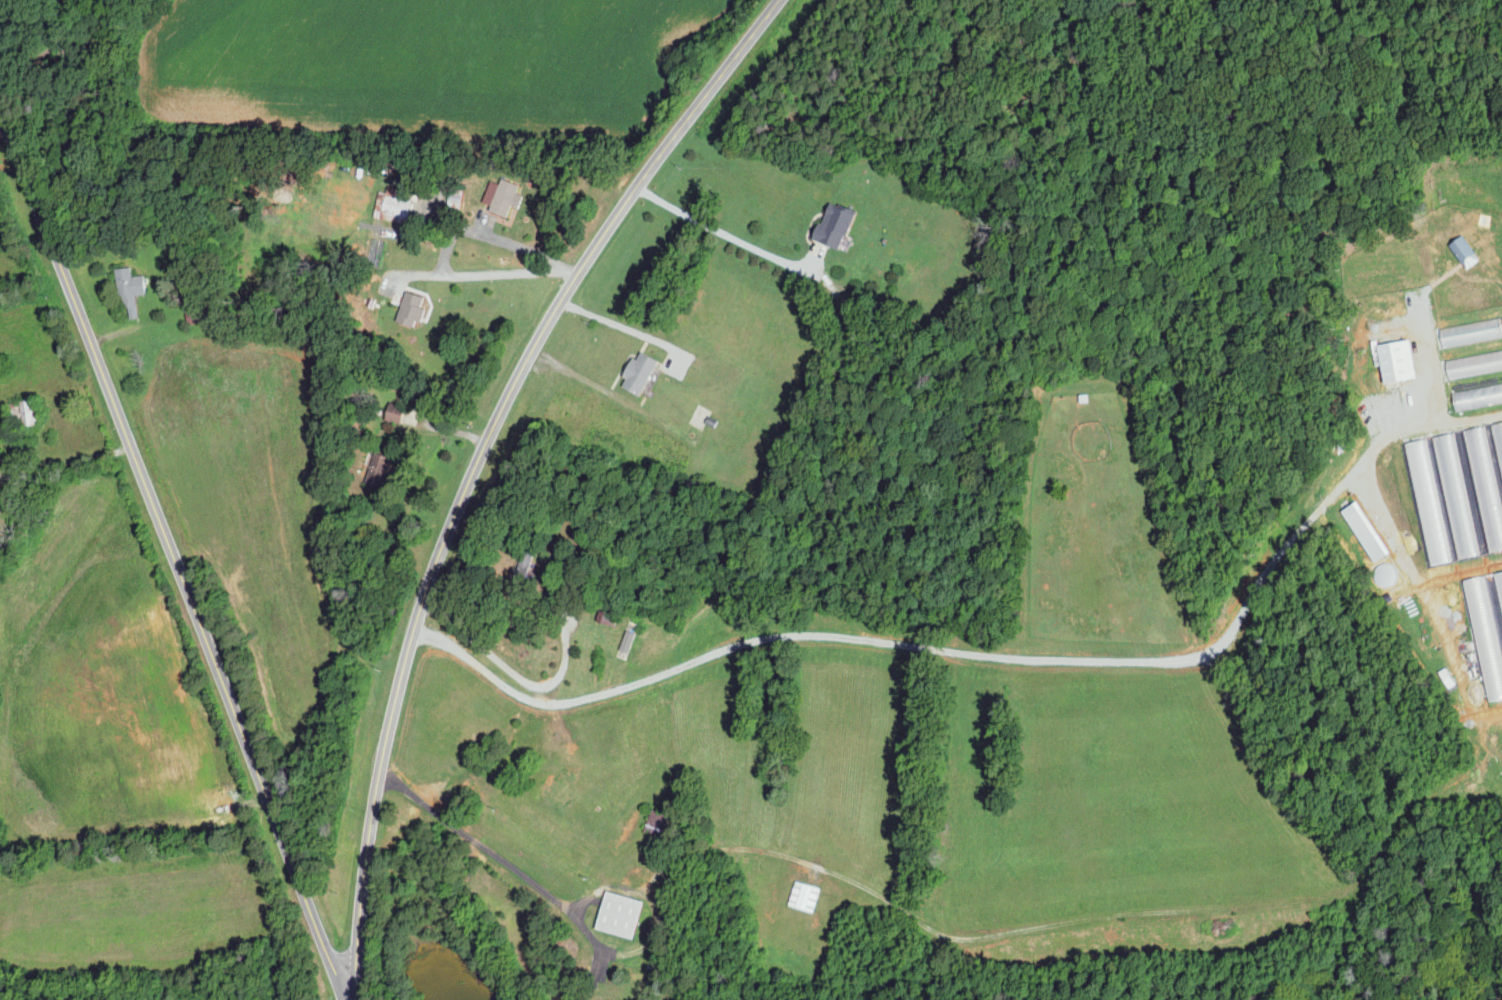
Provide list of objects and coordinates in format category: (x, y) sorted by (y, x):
building: (503, 197)
building: (394, 206)
building: (830, 226)
road: (722, 230)
road: (446, 243)
building: (1464, 248)
building: (128, 290)
building: (409, 309)
road: (613, 322)
building: (1470, 329)
building: (1398, 357)
building: (1475, 364)
building: (636, 372)
building: (1479, 393)
building: (21, 410)
building: (392, 412)
road: (476, 465)
building: (375, 471)
building: (1460, 487)
building: (1361, 524)
road: (173, 555)
building: (1499, 580)
road: (944, 648)
road: (510, 670)
building: (651, 821)
road: (503, 860)
building: (802, 896)
building: (616, 914)

